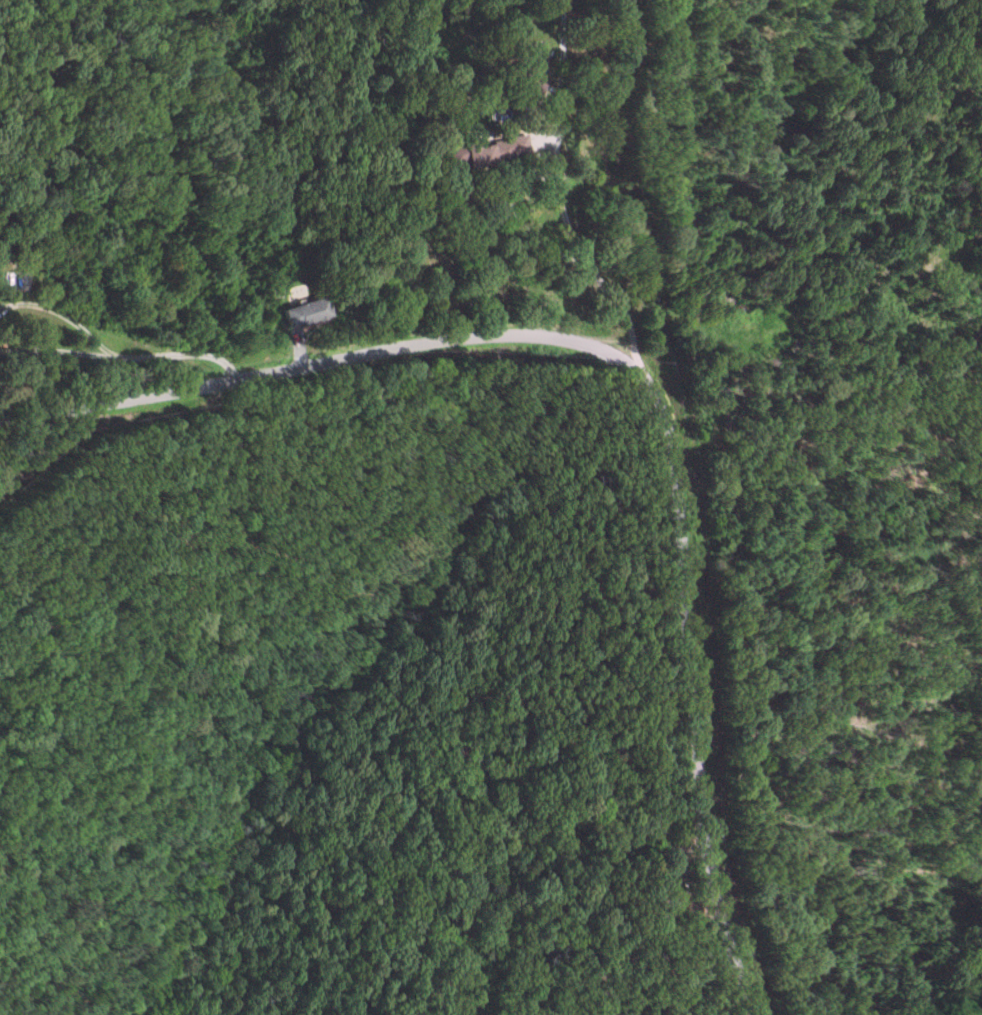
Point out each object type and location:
building: (490, 150)
road: (578, 265)
building: (300, 312)
road: (98, 353)
road: (174, 360)
road: (635, 376)
road: (701, 923)

